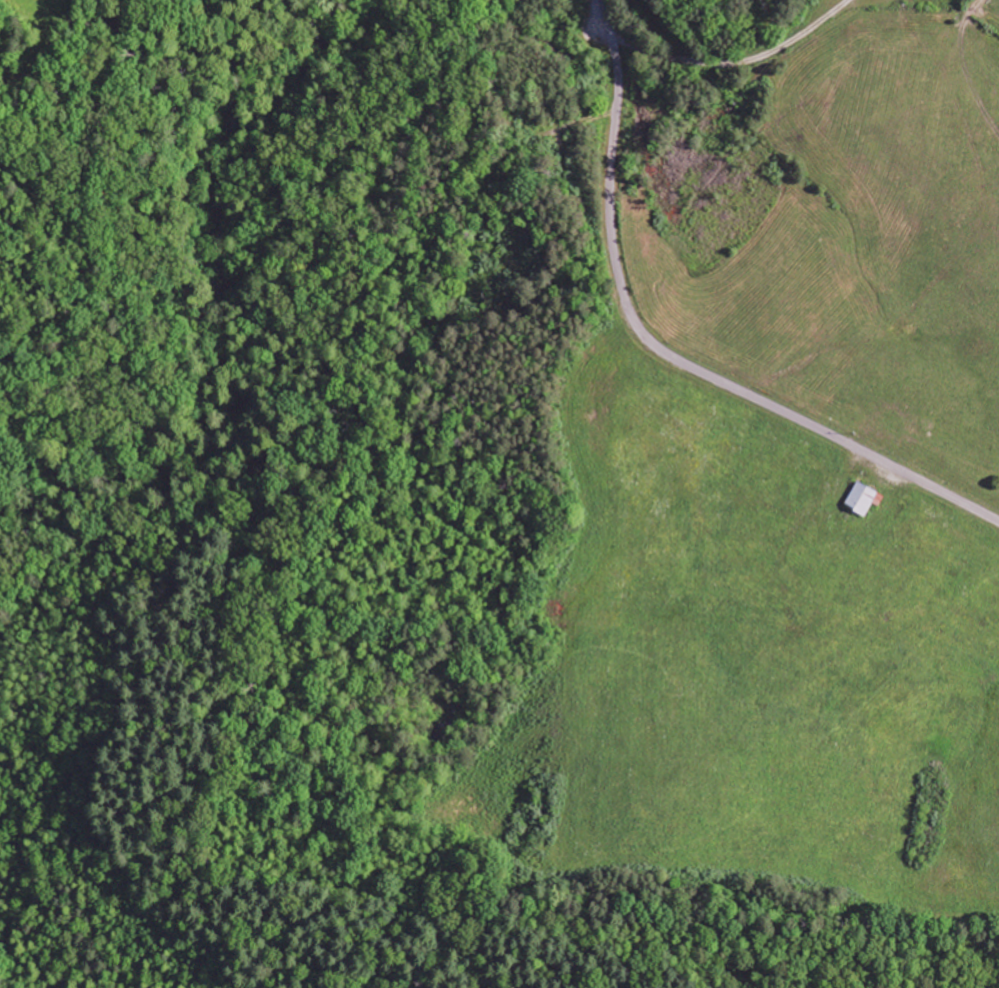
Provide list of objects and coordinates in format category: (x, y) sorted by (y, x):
road: (738, 62)
road: (670, 346)
building: (863, 500)

